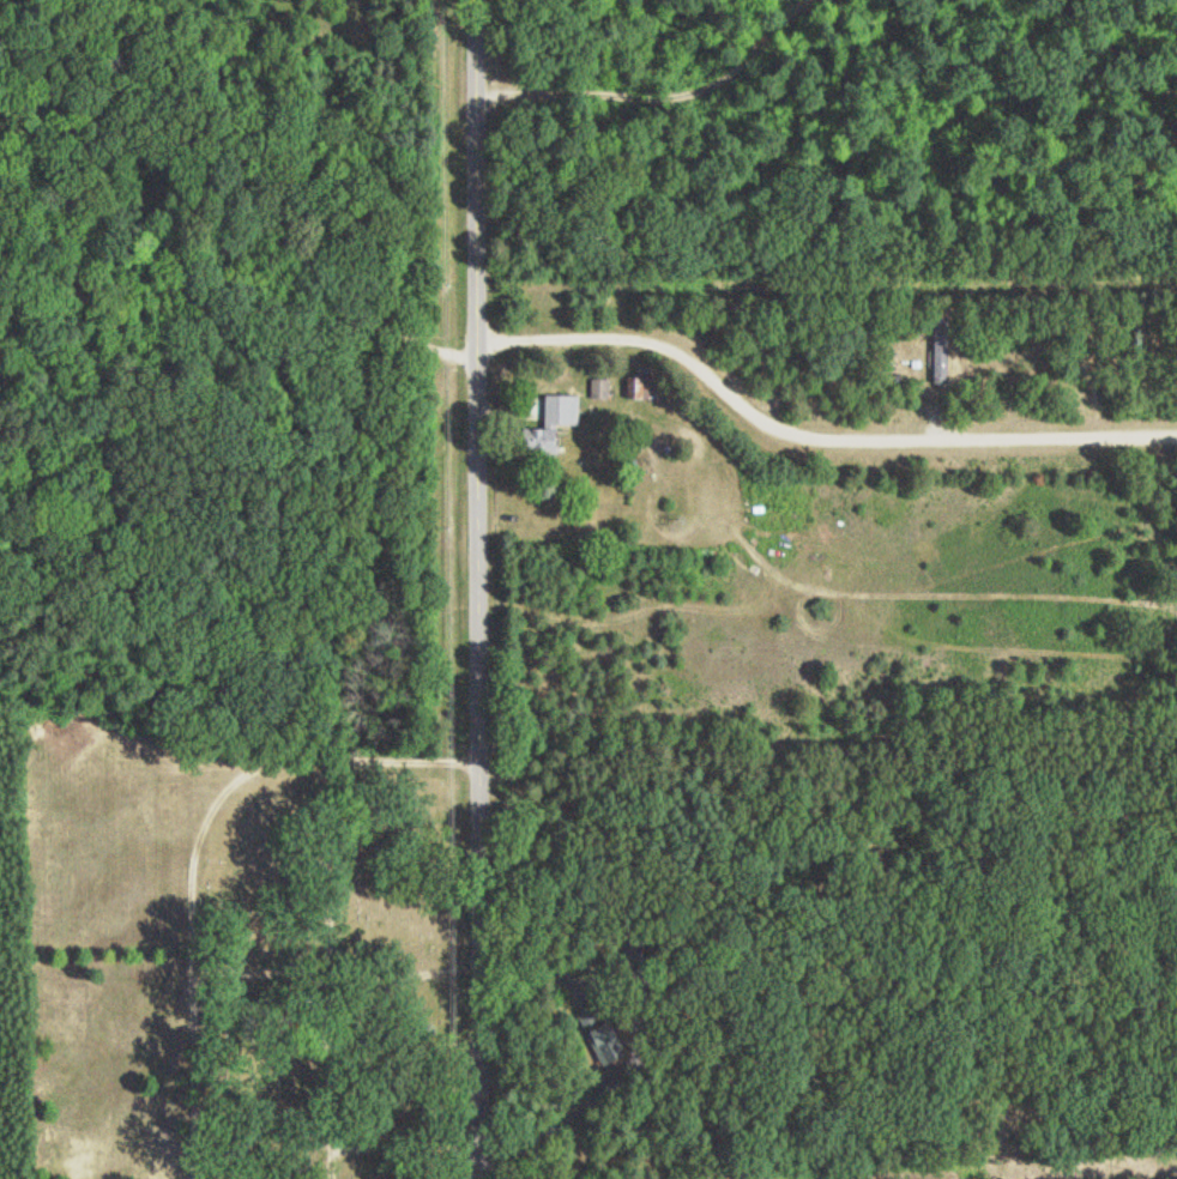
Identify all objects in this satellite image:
building: (942, 356)
road: (809, 435)
road: (473, 589)
park: (339, 980)

